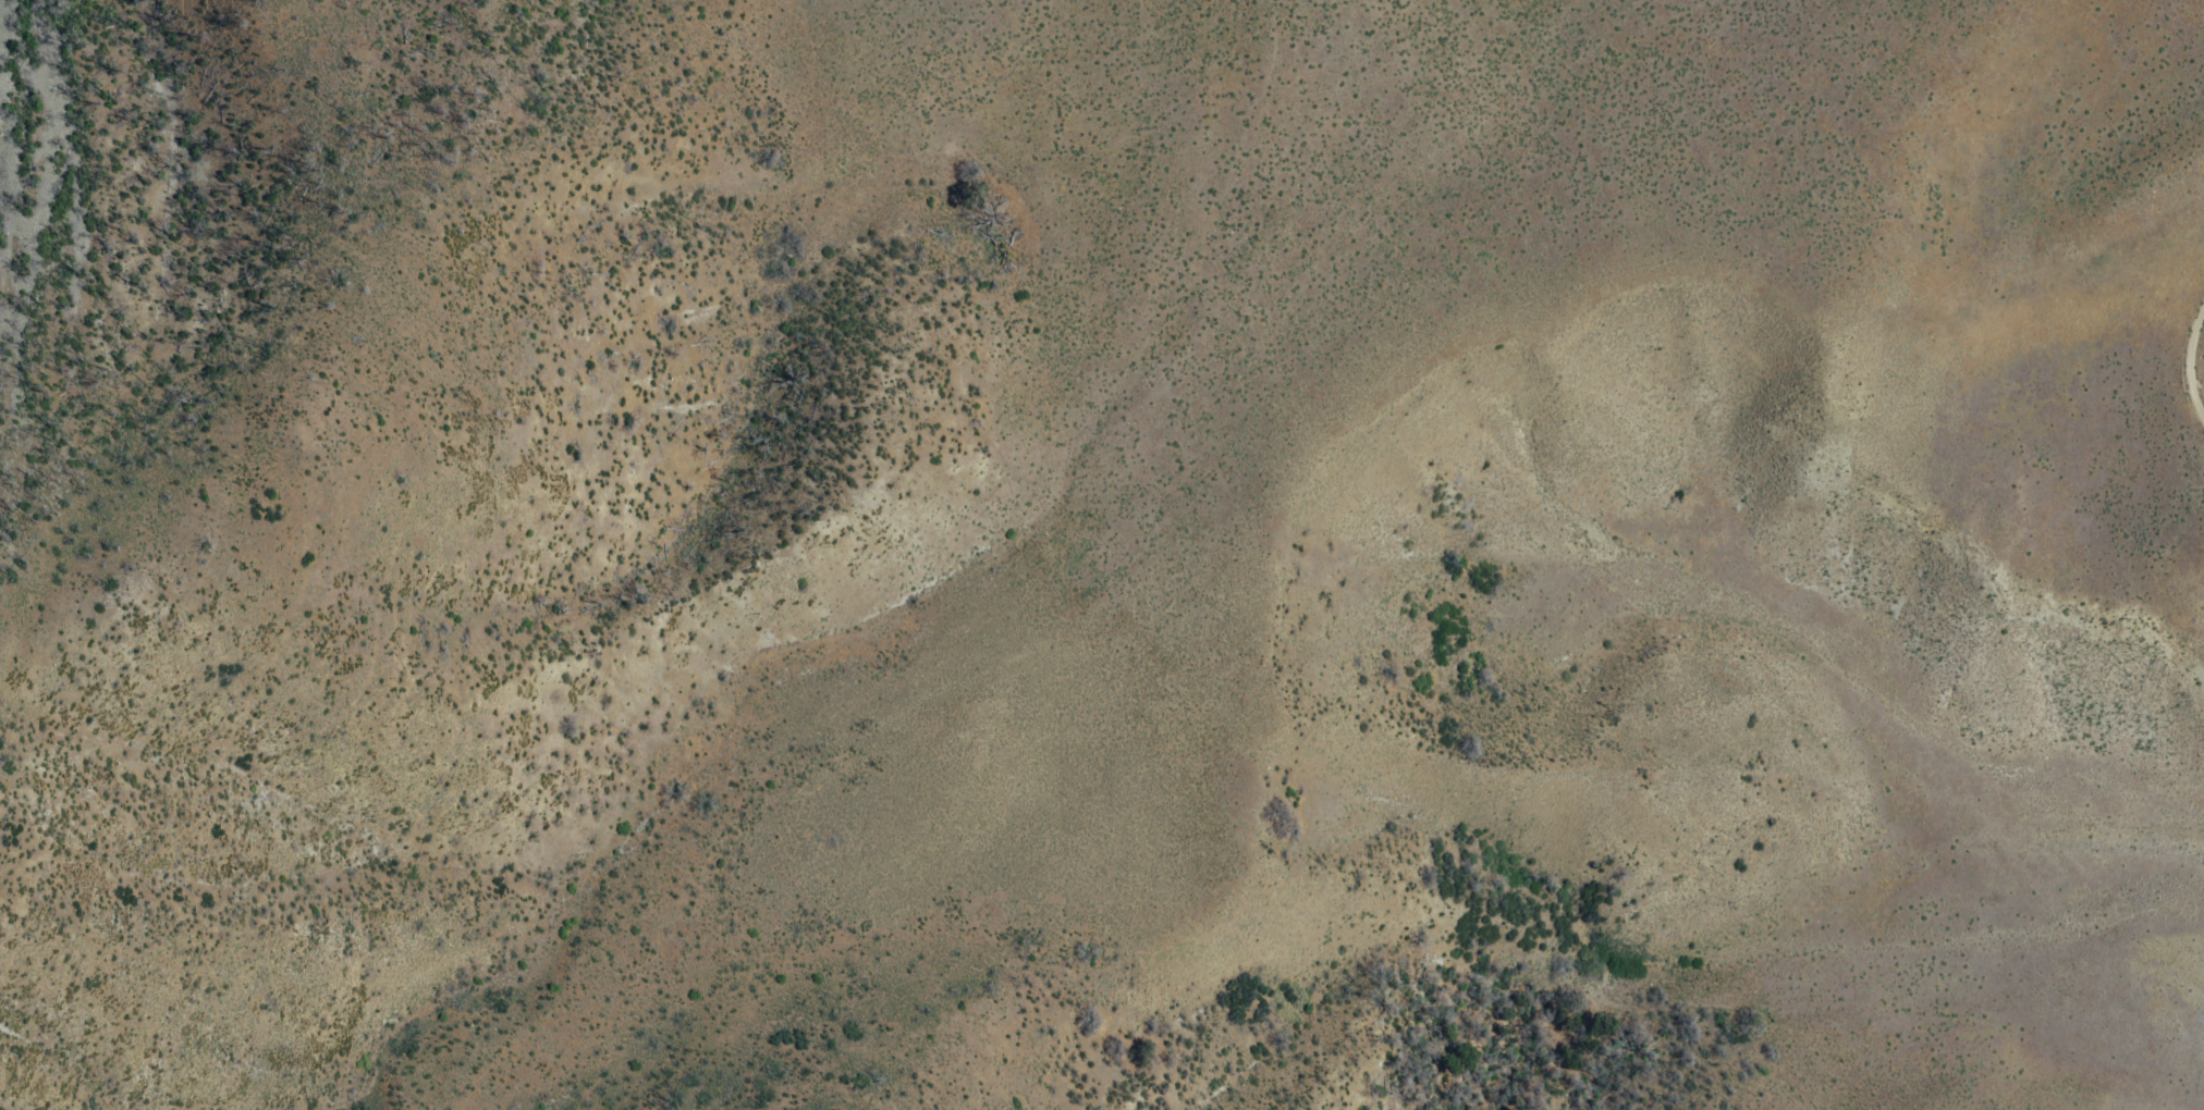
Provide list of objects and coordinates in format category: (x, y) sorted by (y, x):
road: (2192, 361)

